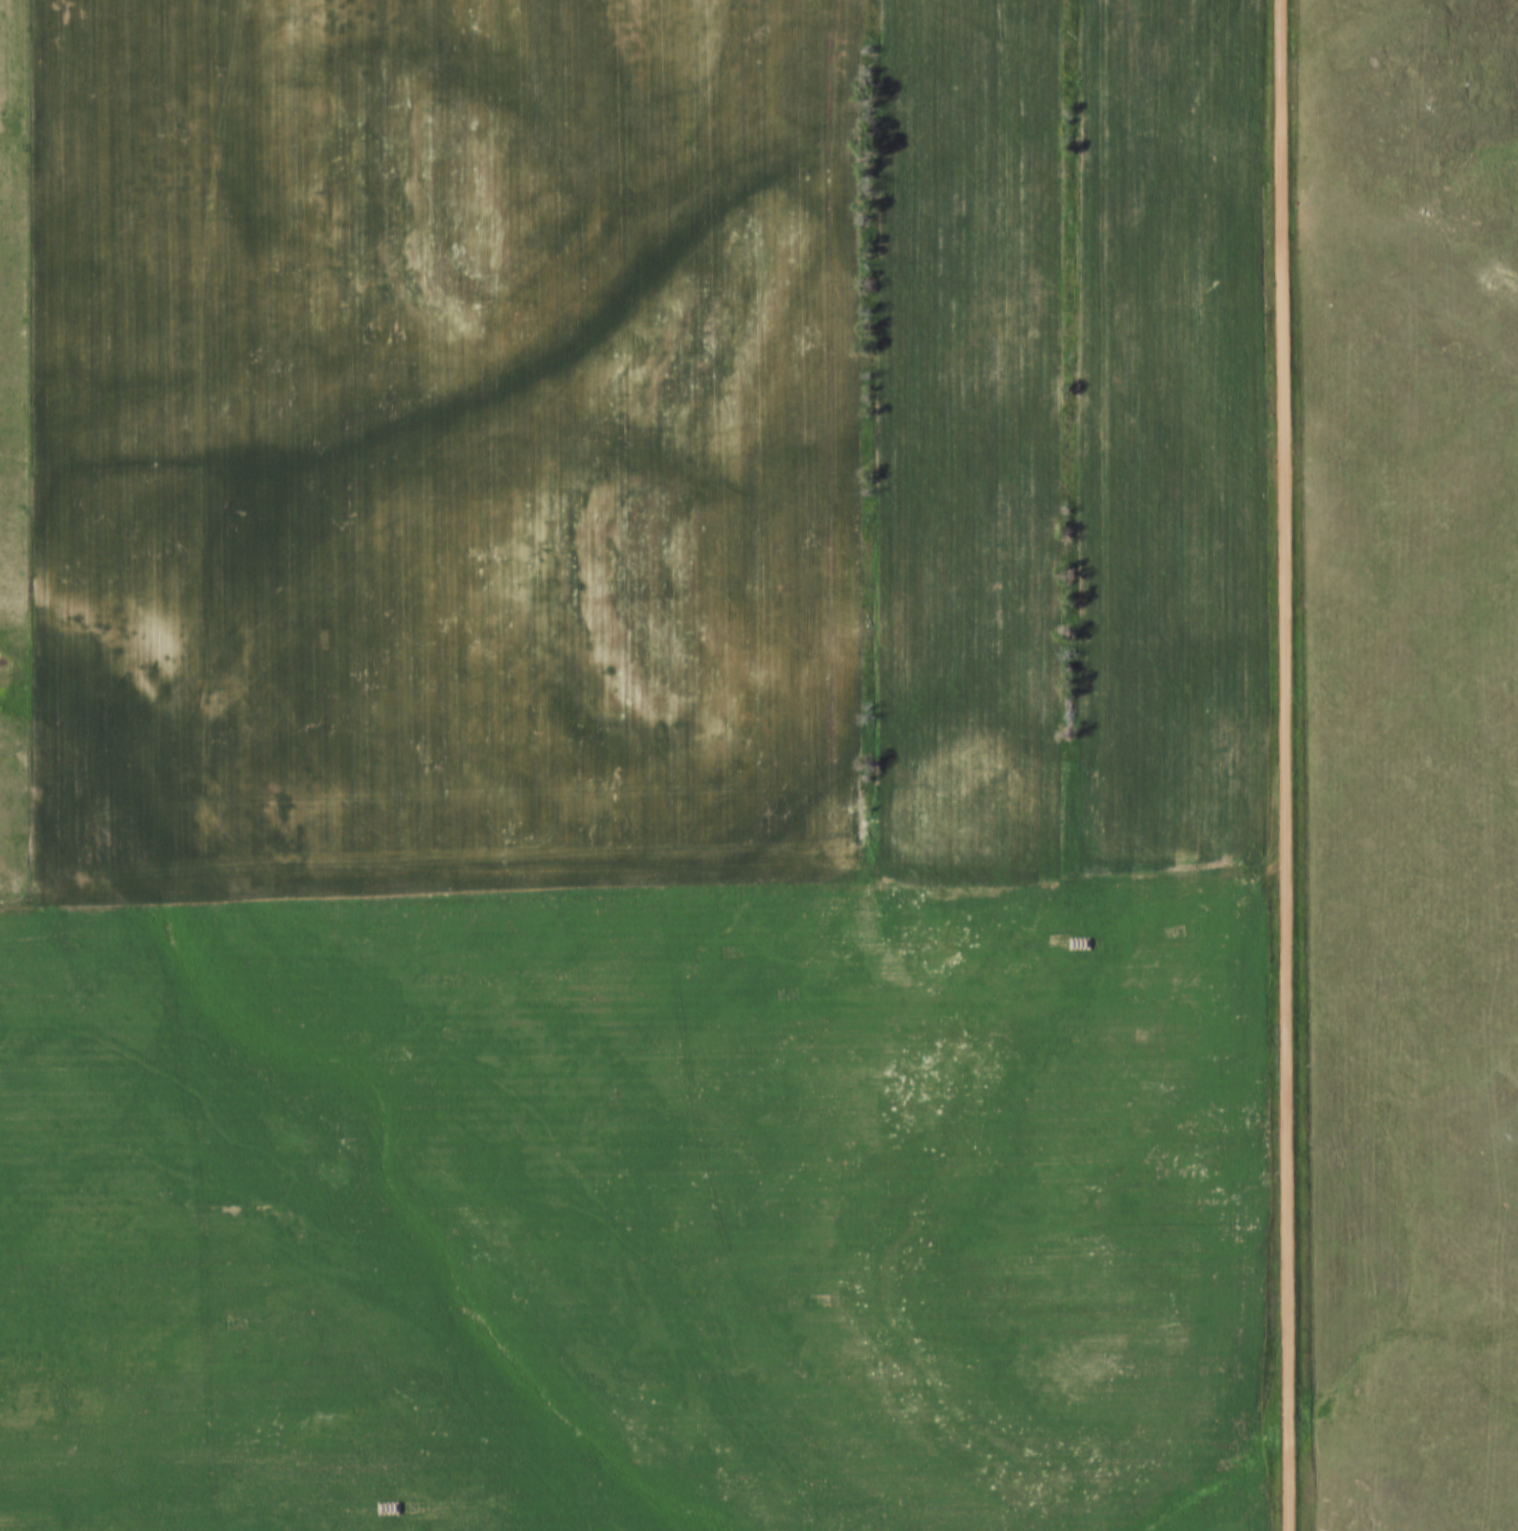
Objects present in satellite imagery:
road: (1281, 765)

